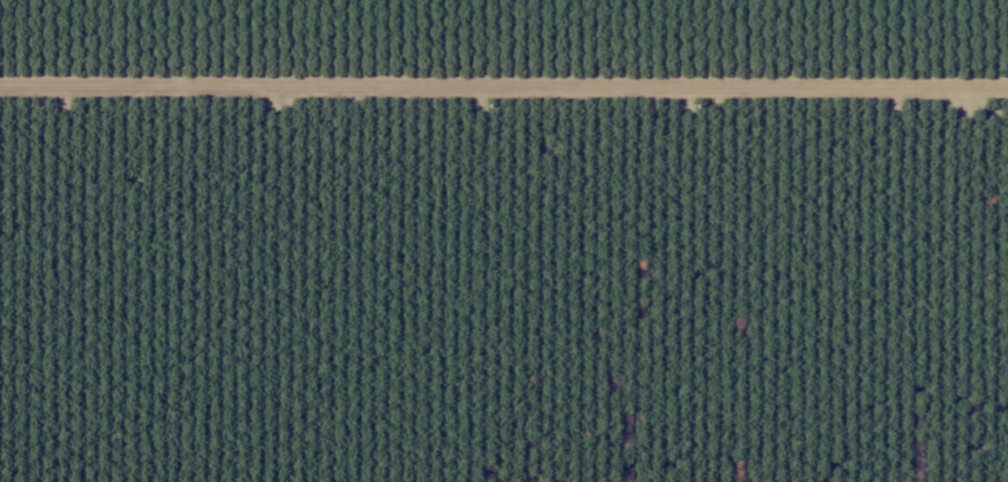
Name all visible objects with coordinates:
crop: (515, 53)
road: (504, 86)

